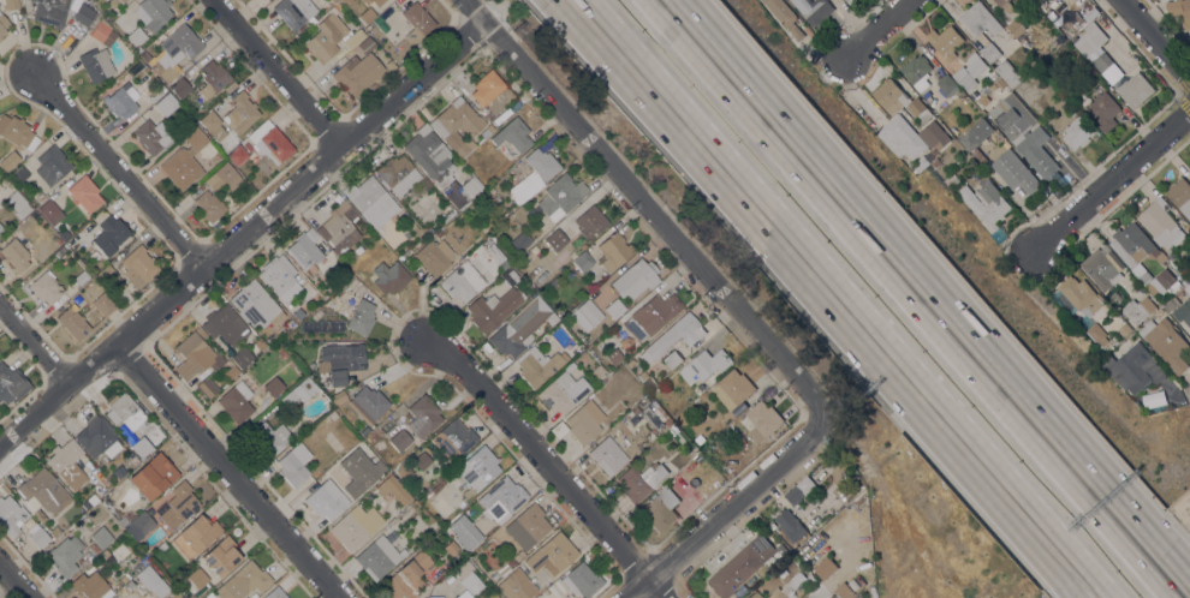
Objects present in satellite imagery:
building: (114, 1)
building: (345, 1)
building: (364, 1)
building: (377, 1)
building: (10, 4)
building: (1004, 4)
road: (494, 10)
building: (815, 10)
building: (50, 11)
building: (294, 11)
building: (1179, 11)
building: (153, 12)
building: (83, 13)
building: (365, 16)
building: (784, 16)
building: (1088, 16)
building: (980, 19)
building: (416, 20)
building: (2, 24)
building: (1016, 28)
road: (875, 30)
building: (1067, 30)
building: (102, 31)
building: (325, 36)
building: (136, 37)
building: (353, 37)
building: (1090, 40)
building: (945, 41)
road: (1154, 41)
building: (180, 42)
building: (365, 43)
building: (989, 52)
building: (1102, 61)
building: (96, 64)
building: (163, 70)
road: (275, 71)
building: (357, 72)
building: (917, 72)
building: (969, 72)
building: (1008, 73)
building: (213, 77)
building: (999, 82)
building: (230, 85)
building: (947, 85)
building: (180, 86)
building: (992, 86)
building: (1005, 89)
building: (1135, 89)
building: (490, 91)
building: (156, 92)
building: (124, 97)
building: (899, 100)
building: (165, 104)
building: (1103, 110)
building: (240, 112)
building: (213, 124)
building: (457, 126)
building: (14, 130)
building: (486, 130)
building: (1077, 132)
building: (153, 133)
building: (1024, 133)
building: (934, 134)
building: (975, 134)
building: (513, 136)
building: (900, 138)
building: (269, 142)
building: (933, 151)
building: (237, 154)
building: (980, 156)
building: (8, 159)
building: (184, 160)
building: (542, 162)
building: (935, 162)
building: (52, 163)
building: (440, 166)
road: (120, 169)
building: (1016, 172)
building: (398, 173)
building: (19, 174)
road: (1109, 174)
building: (224, 178)
building: (537, 184)
building: (84, 192)
building: (561, 193)
building: (1180, 196)
building: (371, 199)
building: (18, 203)
building: (986, 203)
building: (209, 205)
road: (648, 205)
building: (49, 210)
building: (591, 220)
building: (1160, 222)
building: (0, 227)
building: (339, 228)
road: (243, 233)
building: (439, 233)
building: (64, 234)
building: (111, 234)
building: (554, 238)
building: (519, 240)
building: (304, 247)
building: (613, 250)
building: (14, 255)
building: (434, 256)
building: (583, 261)
building: (1131, 261)
building: (502, 263)
building: (138, 264)
building: (1102, 267)
building: (508, 275)
building: (81, 276)
building: (280, 276)
building: (389, 276)
building: (111, 279)
building: (465, 279)
building: (635, 279)
building: (553, 282)
building: (44, 287)
building: (1081, 295)
road: (831, 299)
road: (926, 299)
building: (103, 304)
building: (256, 304)
building: (1170, 306)
building: (493, 307)
building: (615, 307)
building: (1136, 311)
building: (1159, 312)
building: (1183, 312)
building: (298, 313)
building: (587, 313)
building: (654, 315)
building: (361, 317)
building: (72, 322)
building: (291, 322)
building: (225, 324)
building: (520, 327)
building: (1124, 329)
building: (1095, 333)
building: (673, 336)
road: (34, 341)
building: (1166, 342)
building: (577, 347)
building: (282, 353)
building: (613, 355)
building: (242, 357)
building: (589, 358)
building: (672, 358)
building: (197, 360)
building: (343, 360)
building: (630, 361)
building: (707, 364)
building: (537, 365)
building: (1134, 369)
building: (597, 370)
building: (231, 372)
building: (645, 379)
building: (11, 383)
building: (273, 385)
building: (732, 389)
building: (298, 391)
building: (563, 391)
road: (1185, 393)
road: (1173, 395)
building: (236, 401)
building: (363, 402)
building: (739, 407)
building: (125, 411)
building: (332, 414)
building: (423, 415)
building: (584, 420)
building: (763, 420)
building: (97, 436)
building: (269, 437)
building: (454, 438)
building: (700, 438)
building: (400, 439)
building: (141, 445)
building: (607, 455)
building: (421, 460)
building: (66, 465)
building: (293, 465)
road: (548, 465)
building: (478, 467)
road: (228, 470)
building: (120, 472)
building: (353, 472)
building: (153, 476)
building: (641, 479)
building: (435, 488)
building: (394, 489)
building: (708, 490)
building: (799, 490)
building: (43, 492)
building: (501, 497)
building: (326, 498)
building: (178, 504)
building: (112, 506)
road: (725, 508)
building: (661, 509)
building: (11, 515)
building: (125, 518)
building: (139, 525)
building: (355, 525)
building: (528, 526)
building: (790, 526)
building: (465, 530)
building: (55, 531)
building: (195, 534)
building: (38, 536)
building: (101, 537)
building: (450, 548)
building: (93, 549)
building: (114, 551)
building: (552, 554)
building: (65, 555)
building: (221, 555)
building: (518, 555)
building: (377, 557)
building: (506, 566)
building: (740, 566)
building: (825, 568)
building: (781, 572)
building: (469, 575)
building: (198, 576)
building: (406, 578)
building: (811, 578)
building: (149, 579)
building: (582, 579)
building: (243, 580)
road: (14, 581)
building: (517, 585)
building: (90, 586)
building: (790, 587)
building: (843, 591)
building: (871, 592)
building: (274, 593)
building: (209, 594)
building: (464, 594)
building: (754, 594)
building: (203, 597)
building: (427, 597)
building: (441, 597)
building: (832, 597)

